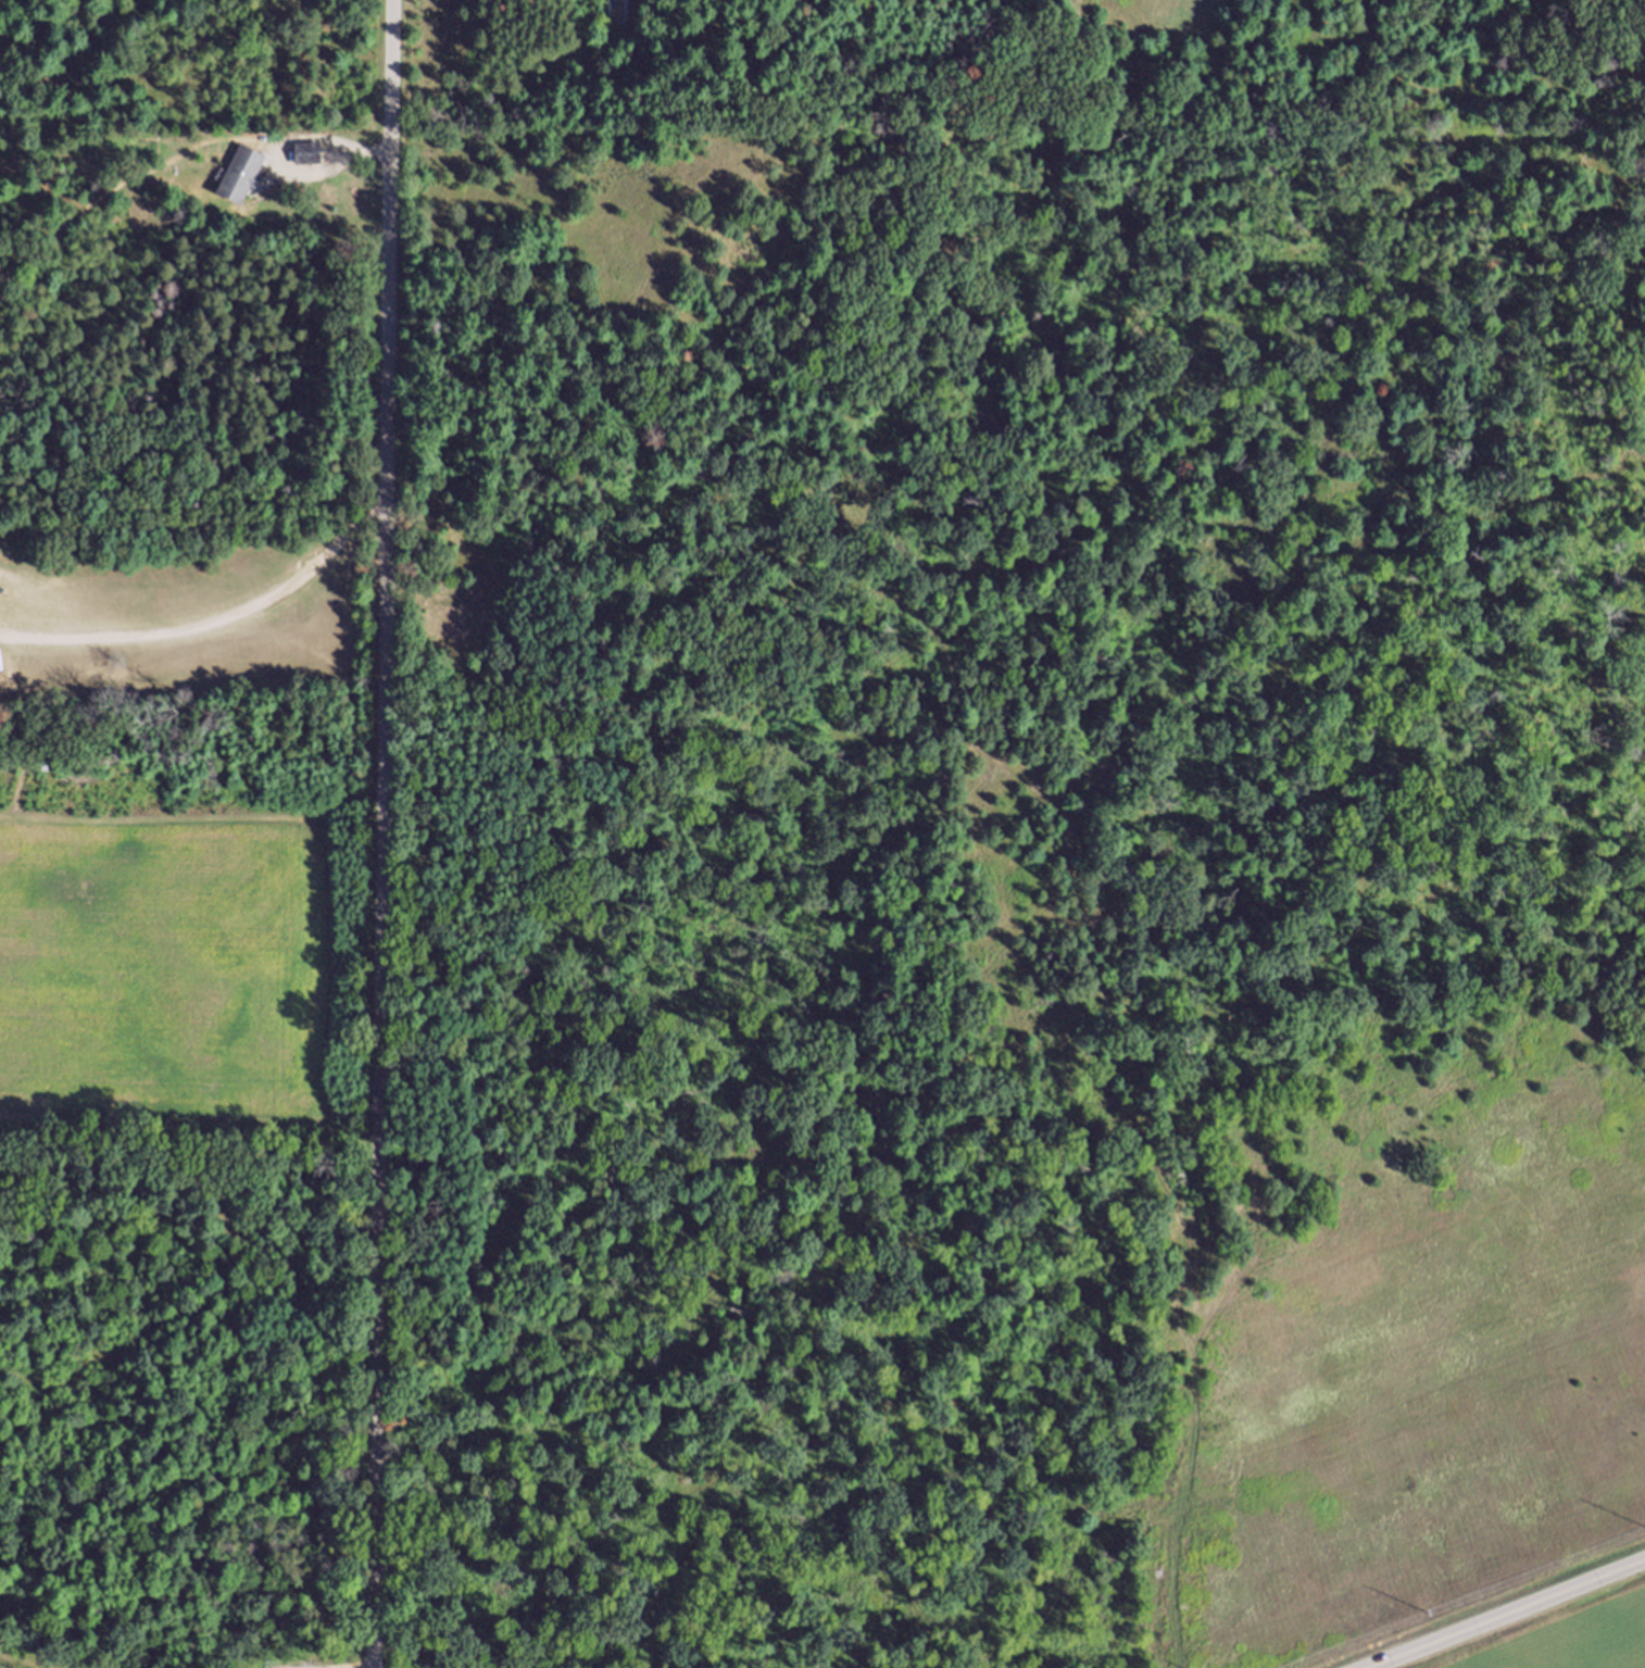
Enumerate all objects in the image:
building: (302, 163)
building: (238, 185)
road: (209, 617)
road: (378, 833)
road: (1508, 1614)

